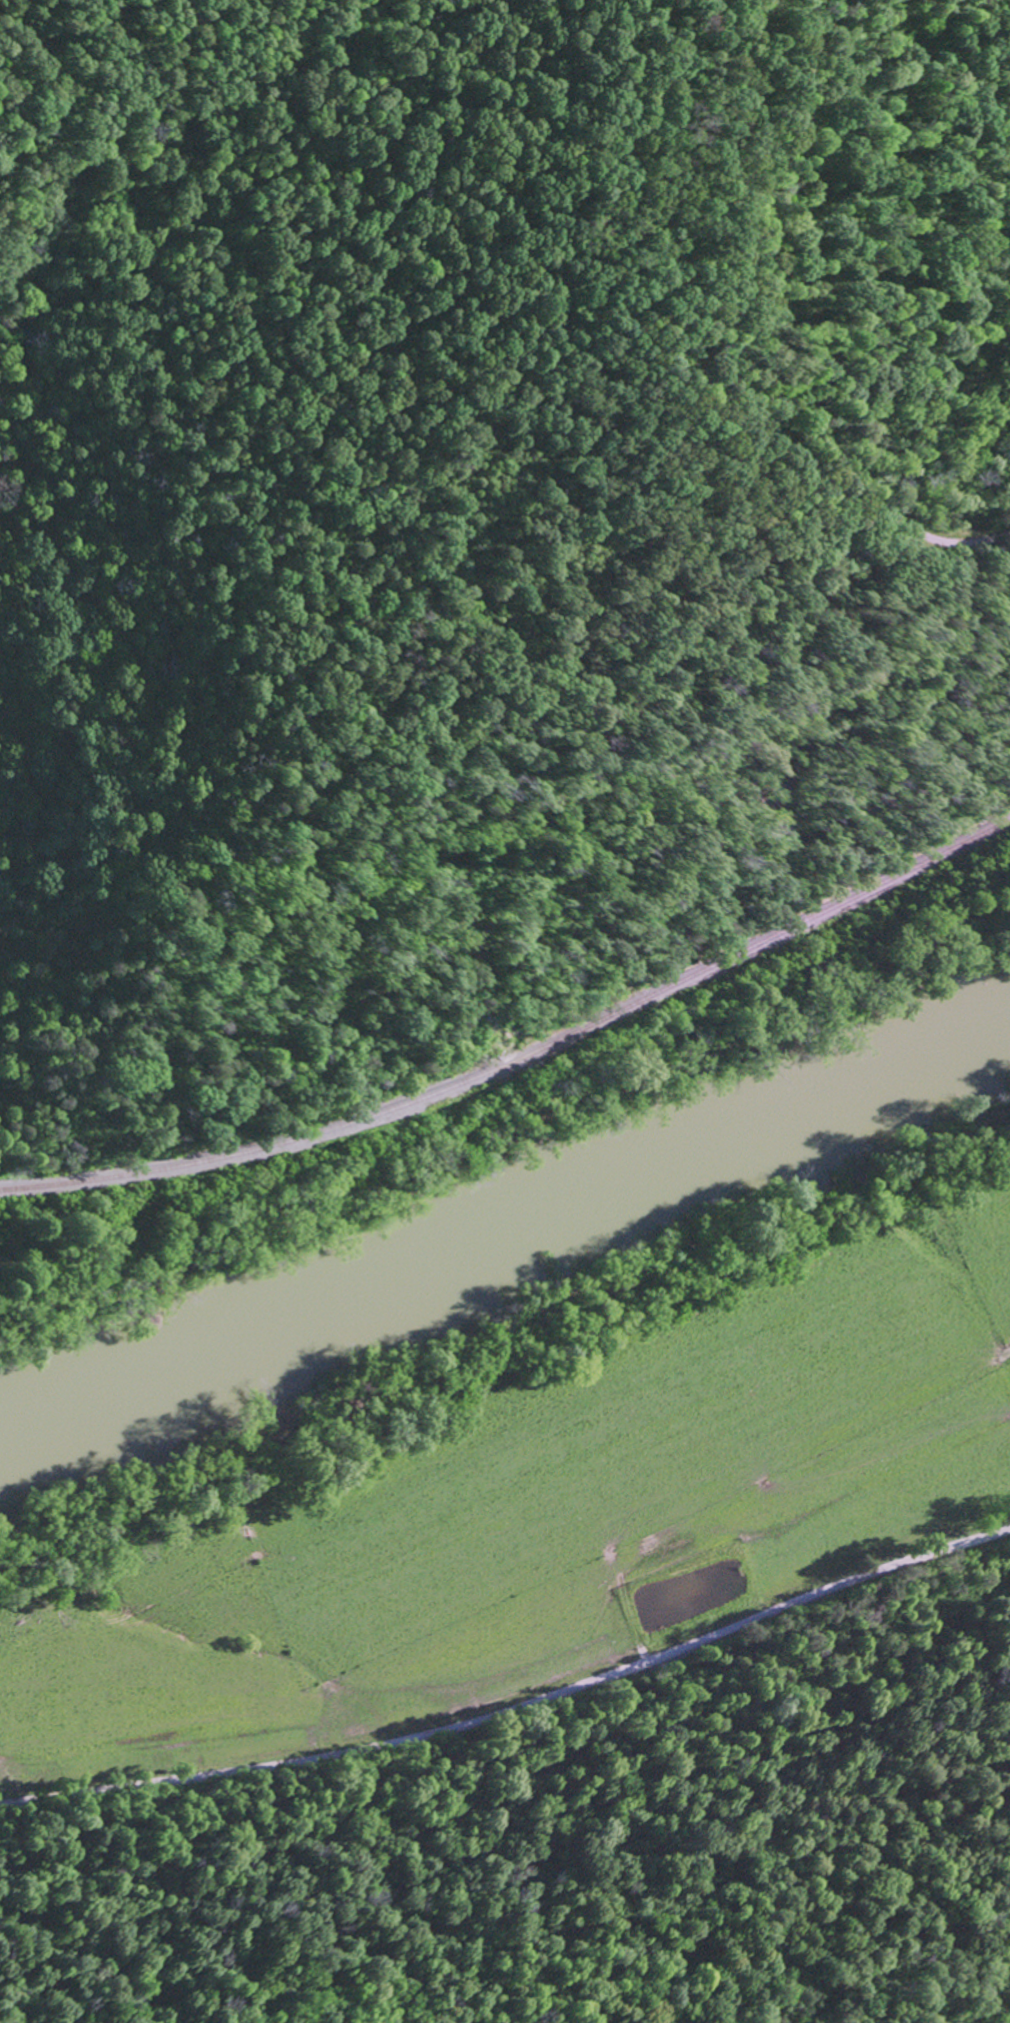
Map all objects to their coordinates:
road: (752, 147)
road: (786, 416)
road: (932, 534)
railway: (518, 1046)
river: (505, 1238)
road: (515, 1710)

